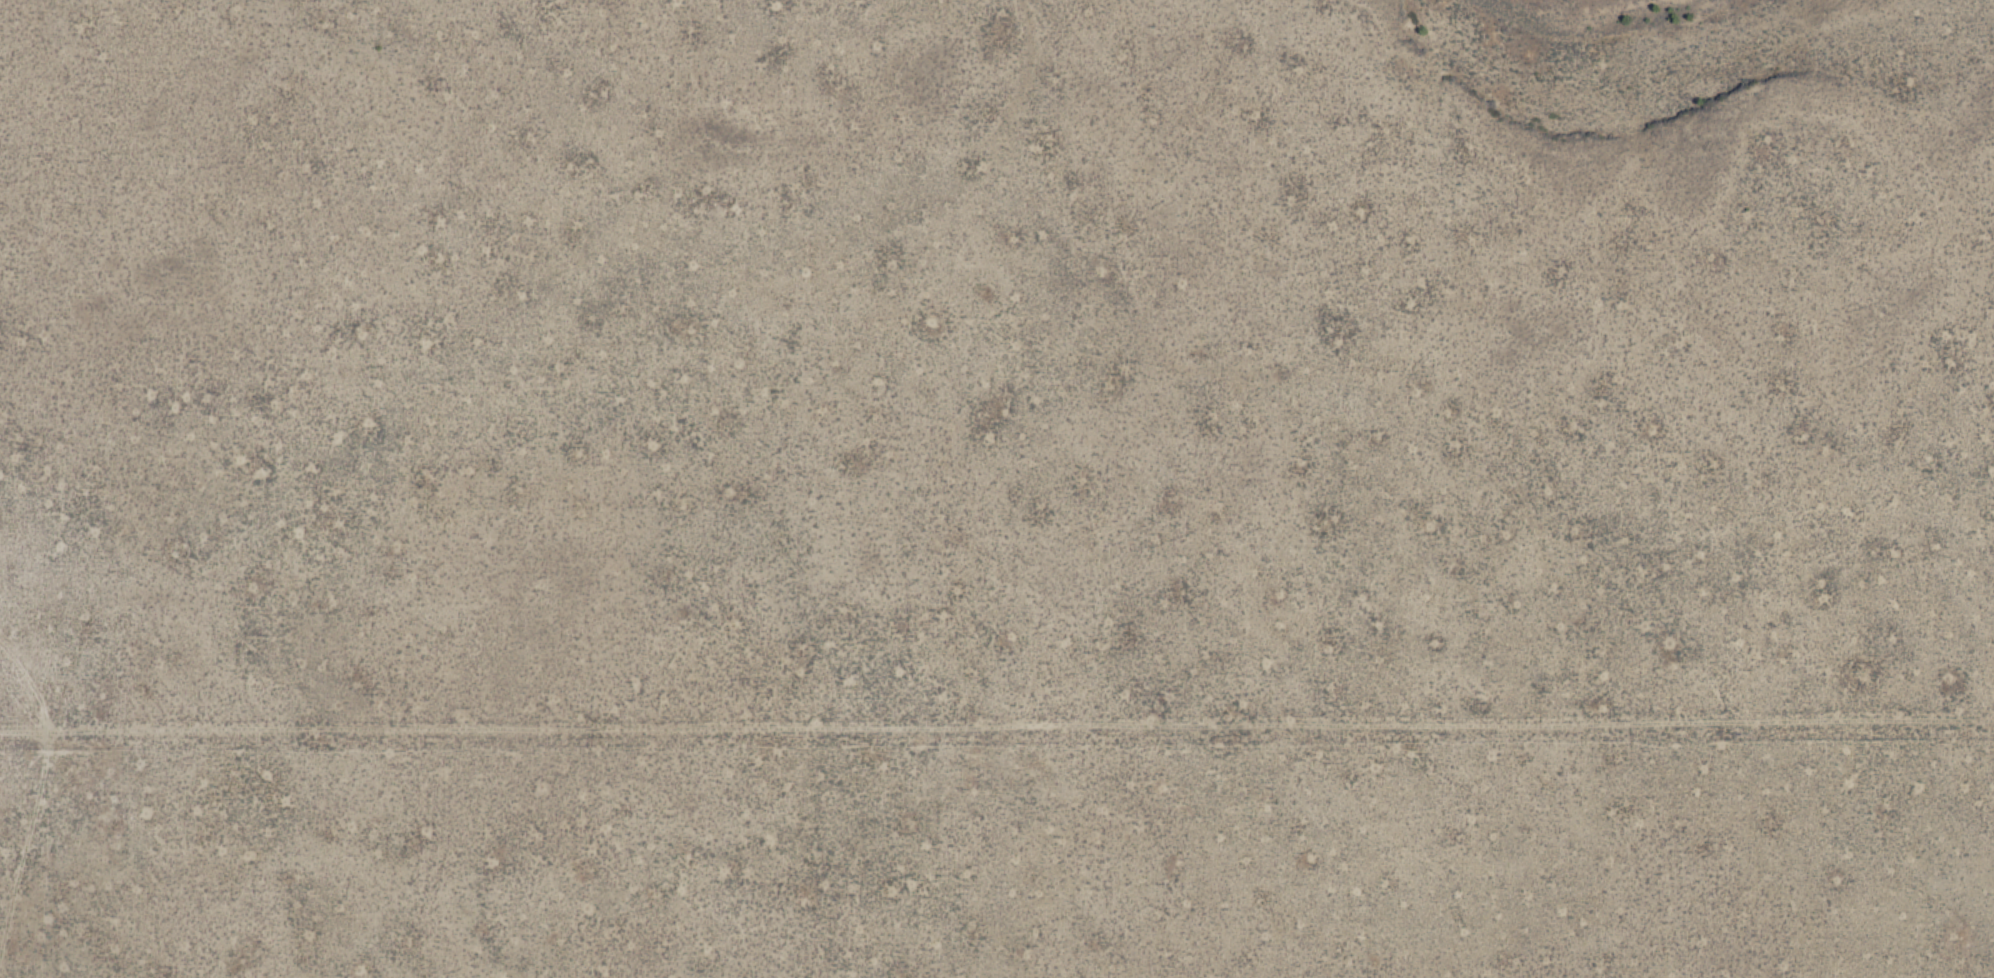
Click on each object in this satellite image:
road: (37, 655)
road: (996, 722)
road: (60, 879)

